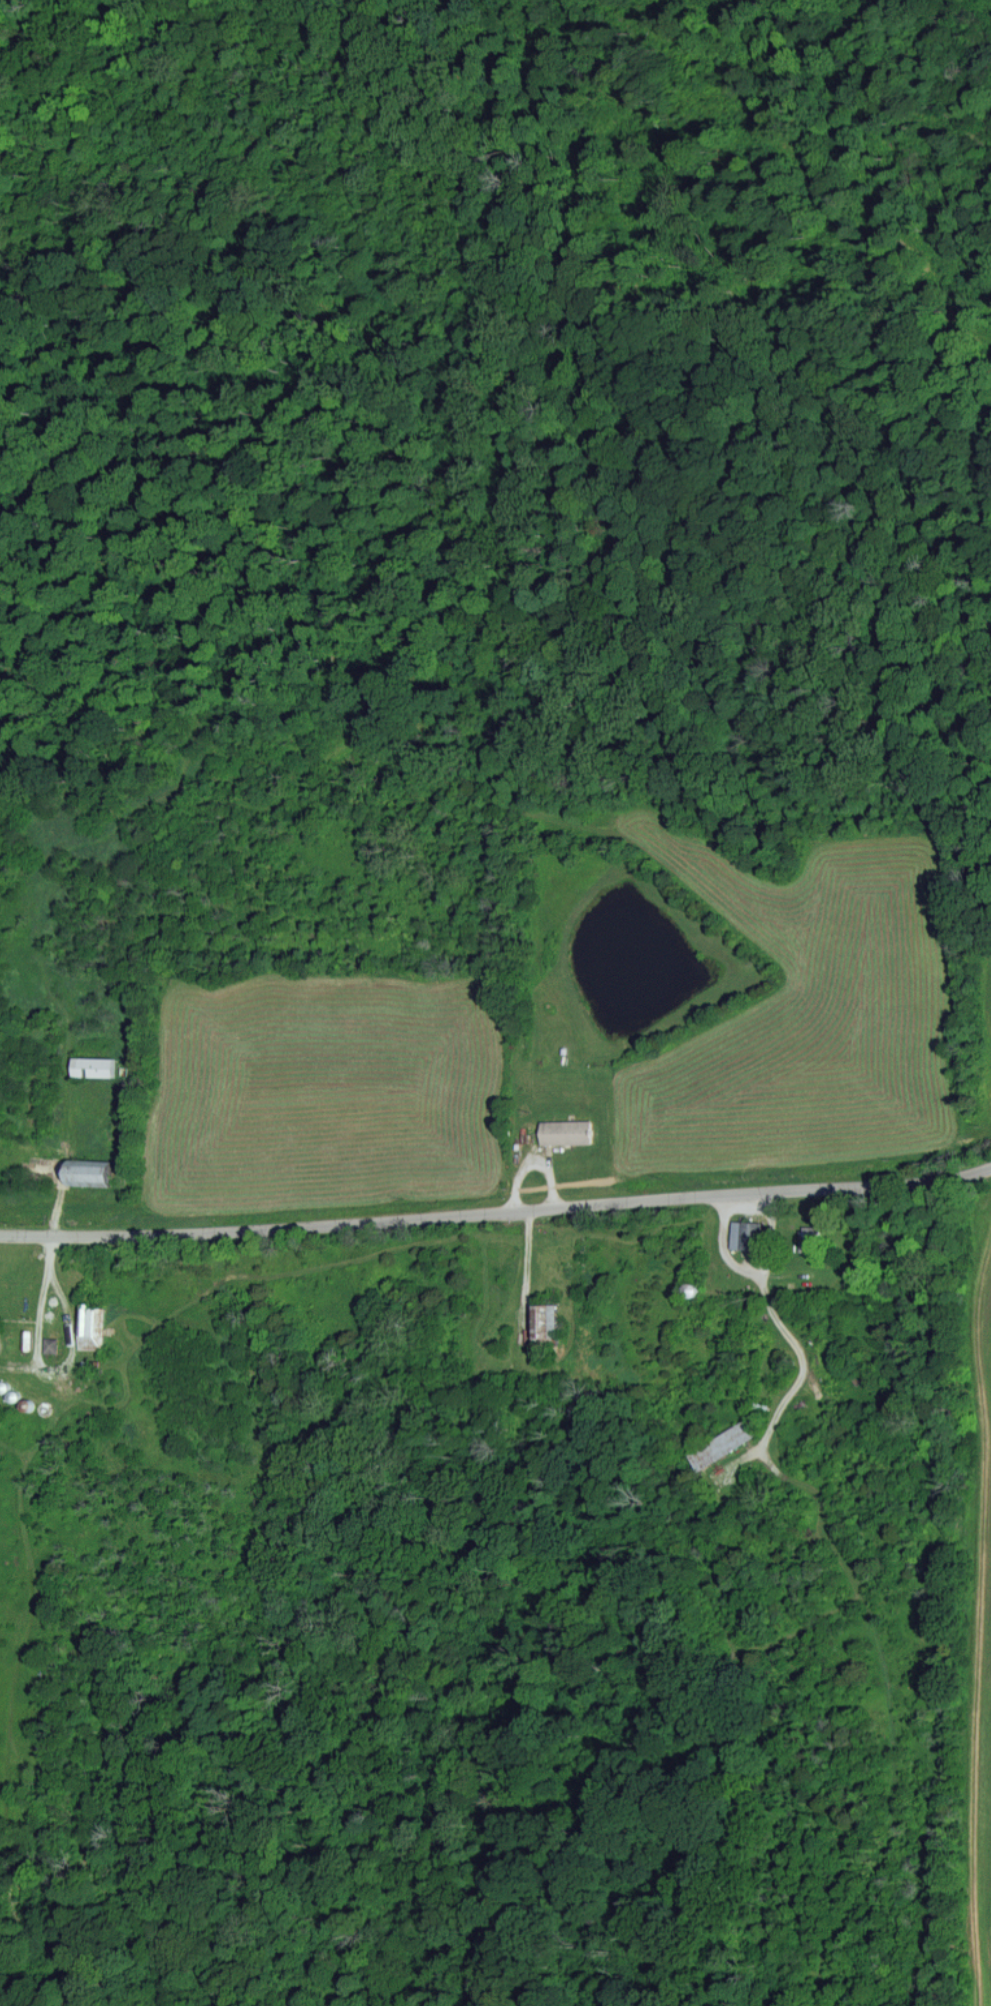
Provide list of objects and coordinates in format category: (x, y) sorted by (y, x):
building: (94, 1066)
building: (565, 1131)
building: (85, 1171)
road: (496, 1210)
road: (748, 1271)
road: (70, 1361)
road: (800, 1375)
road: (970, 1438)

